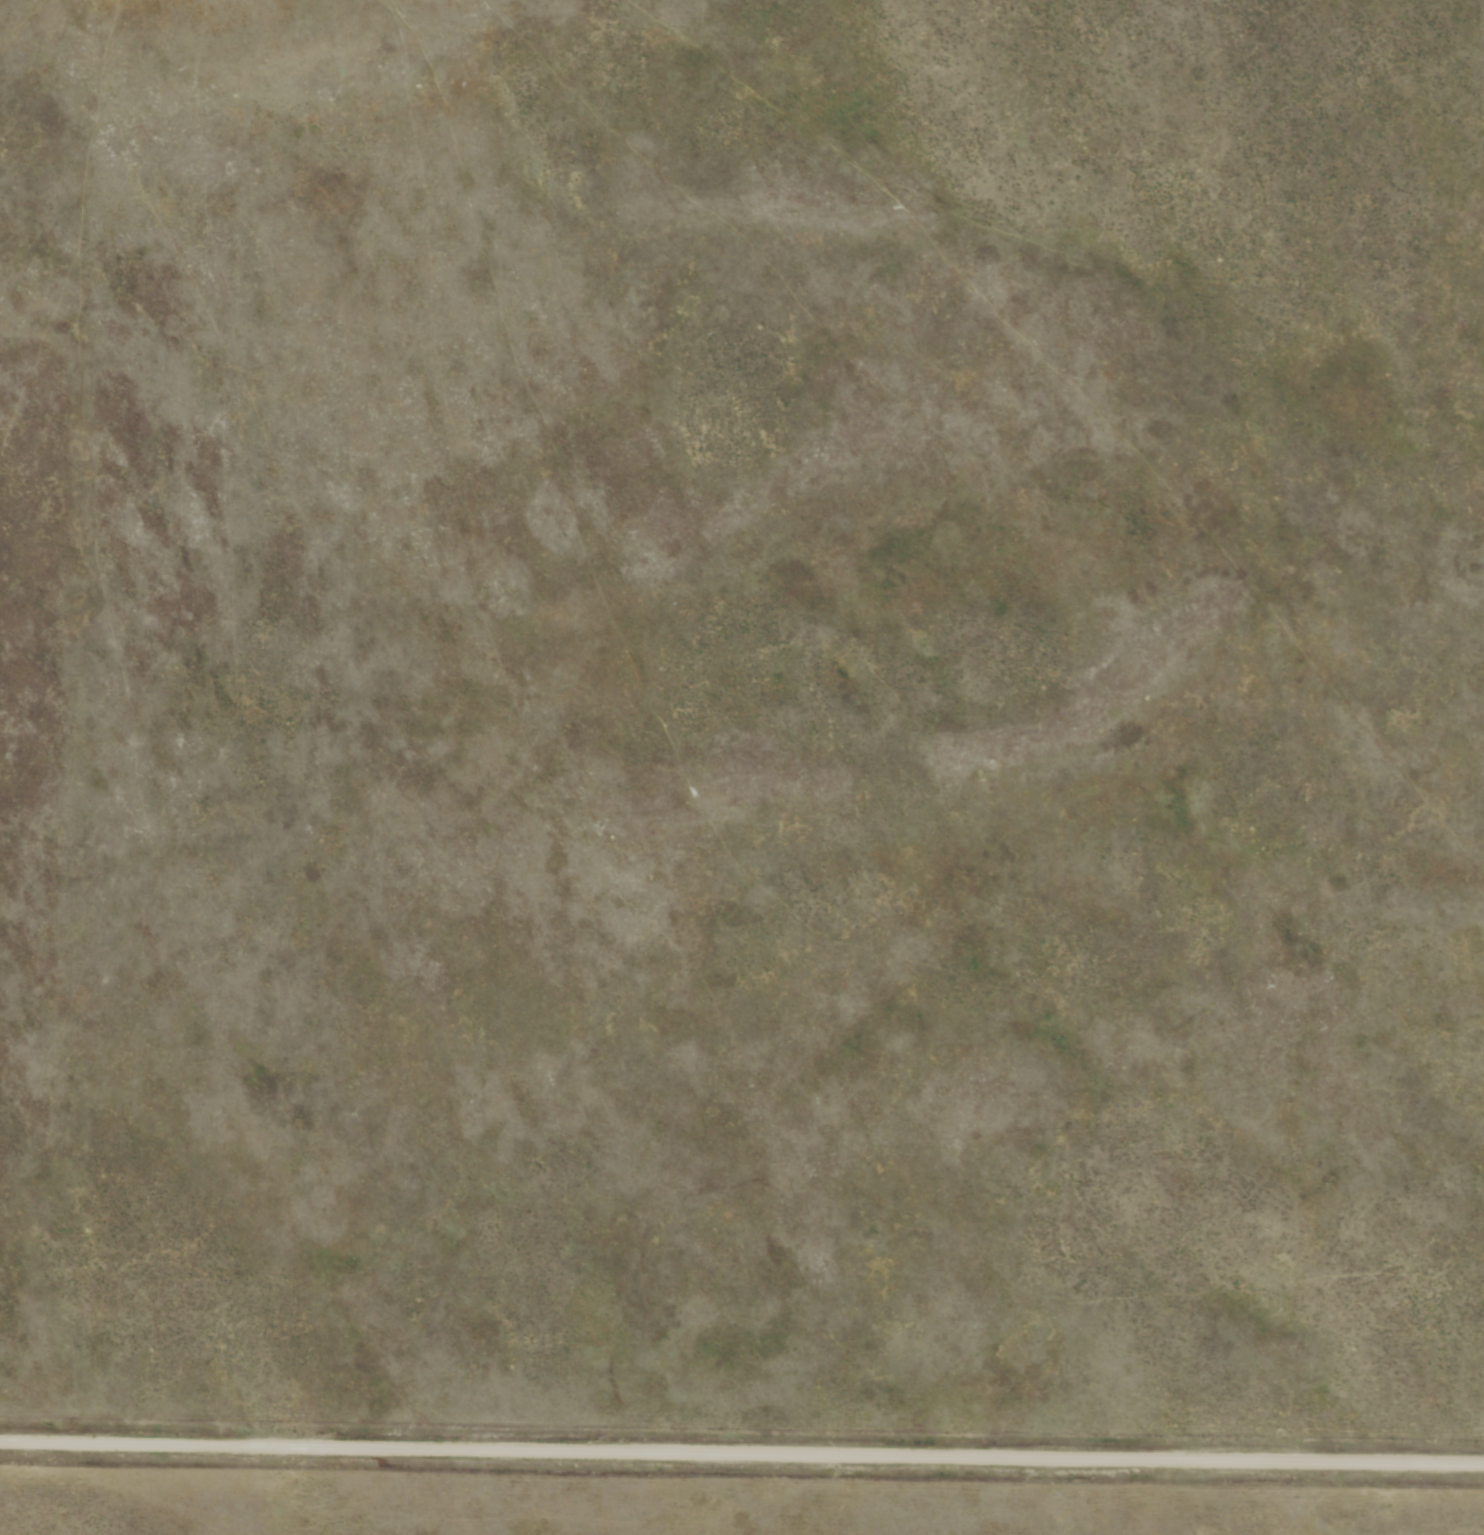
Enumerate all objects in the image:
road: (741, 1454)

